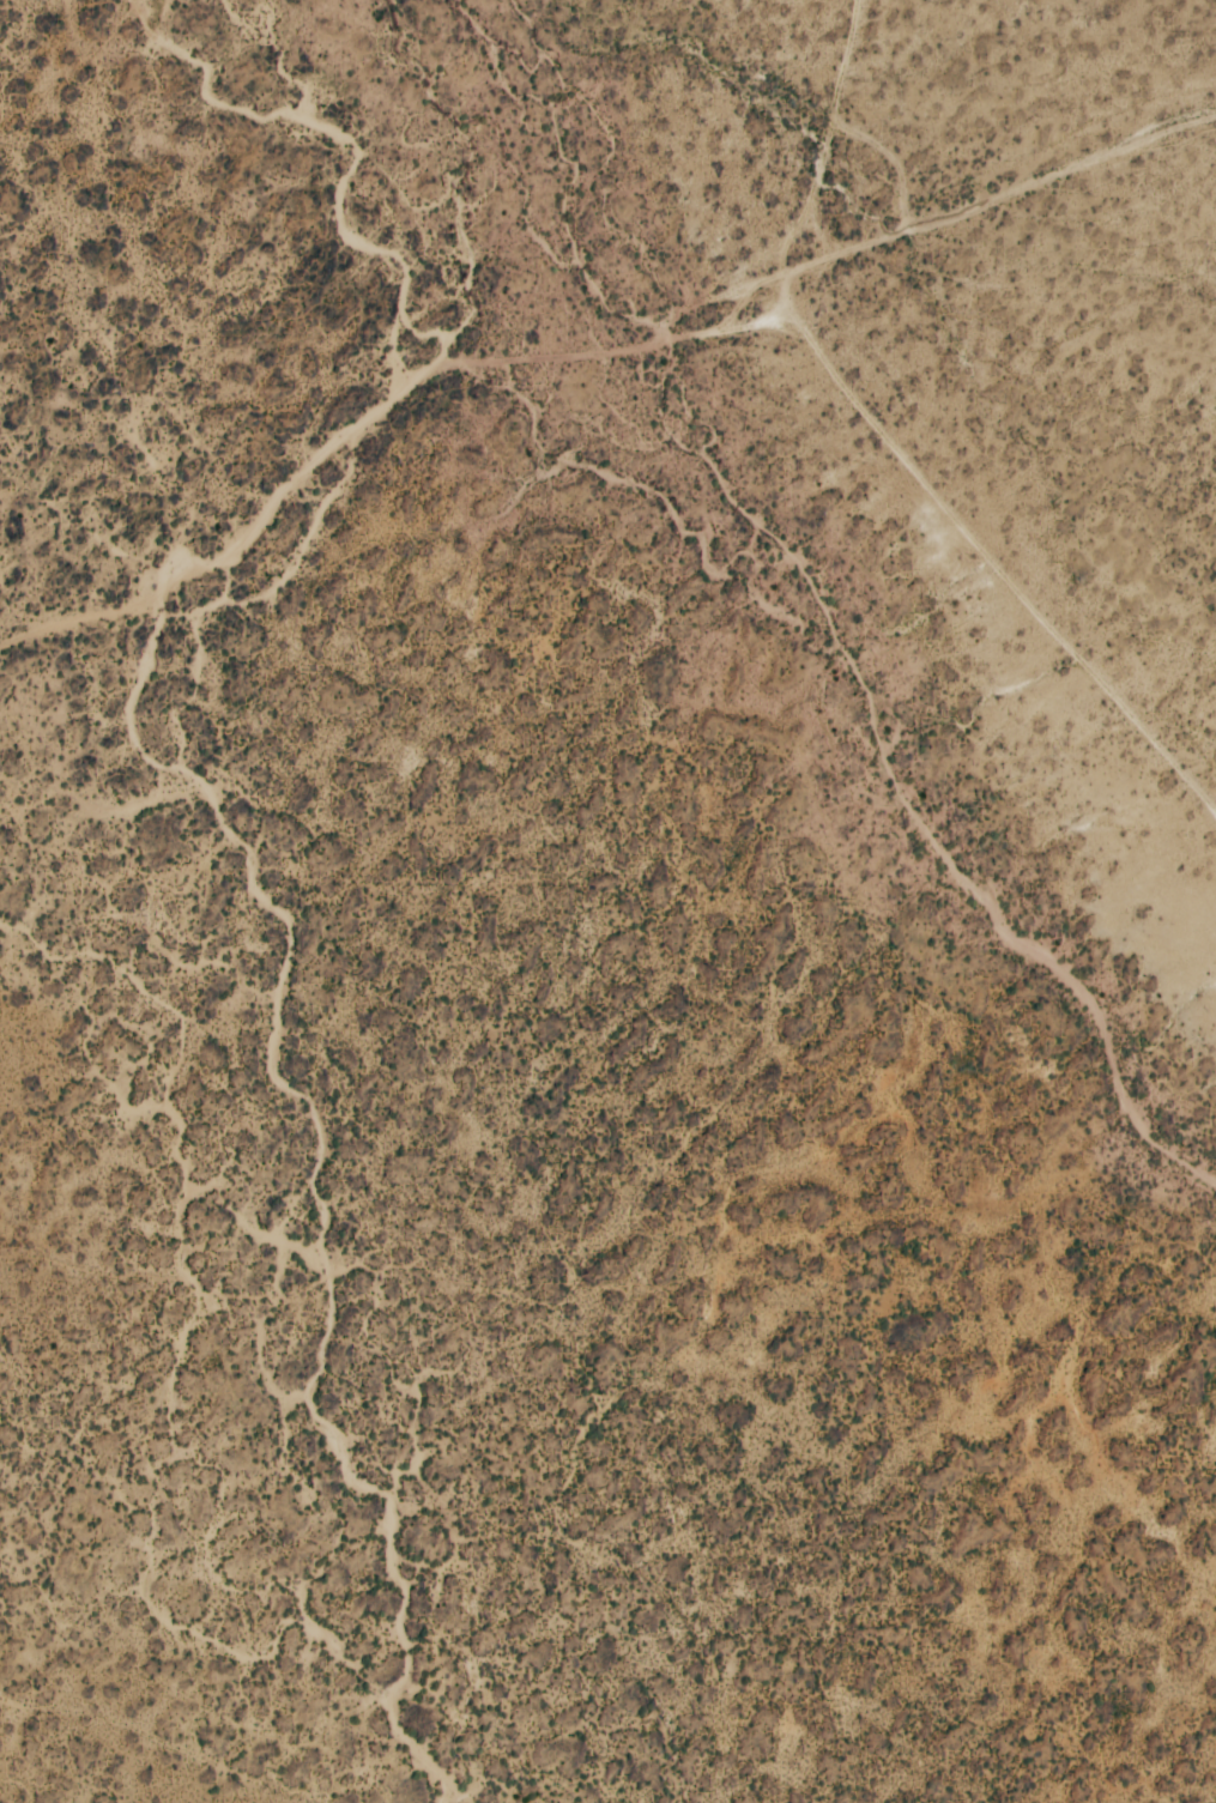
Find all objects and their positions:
road: (490, 339)

